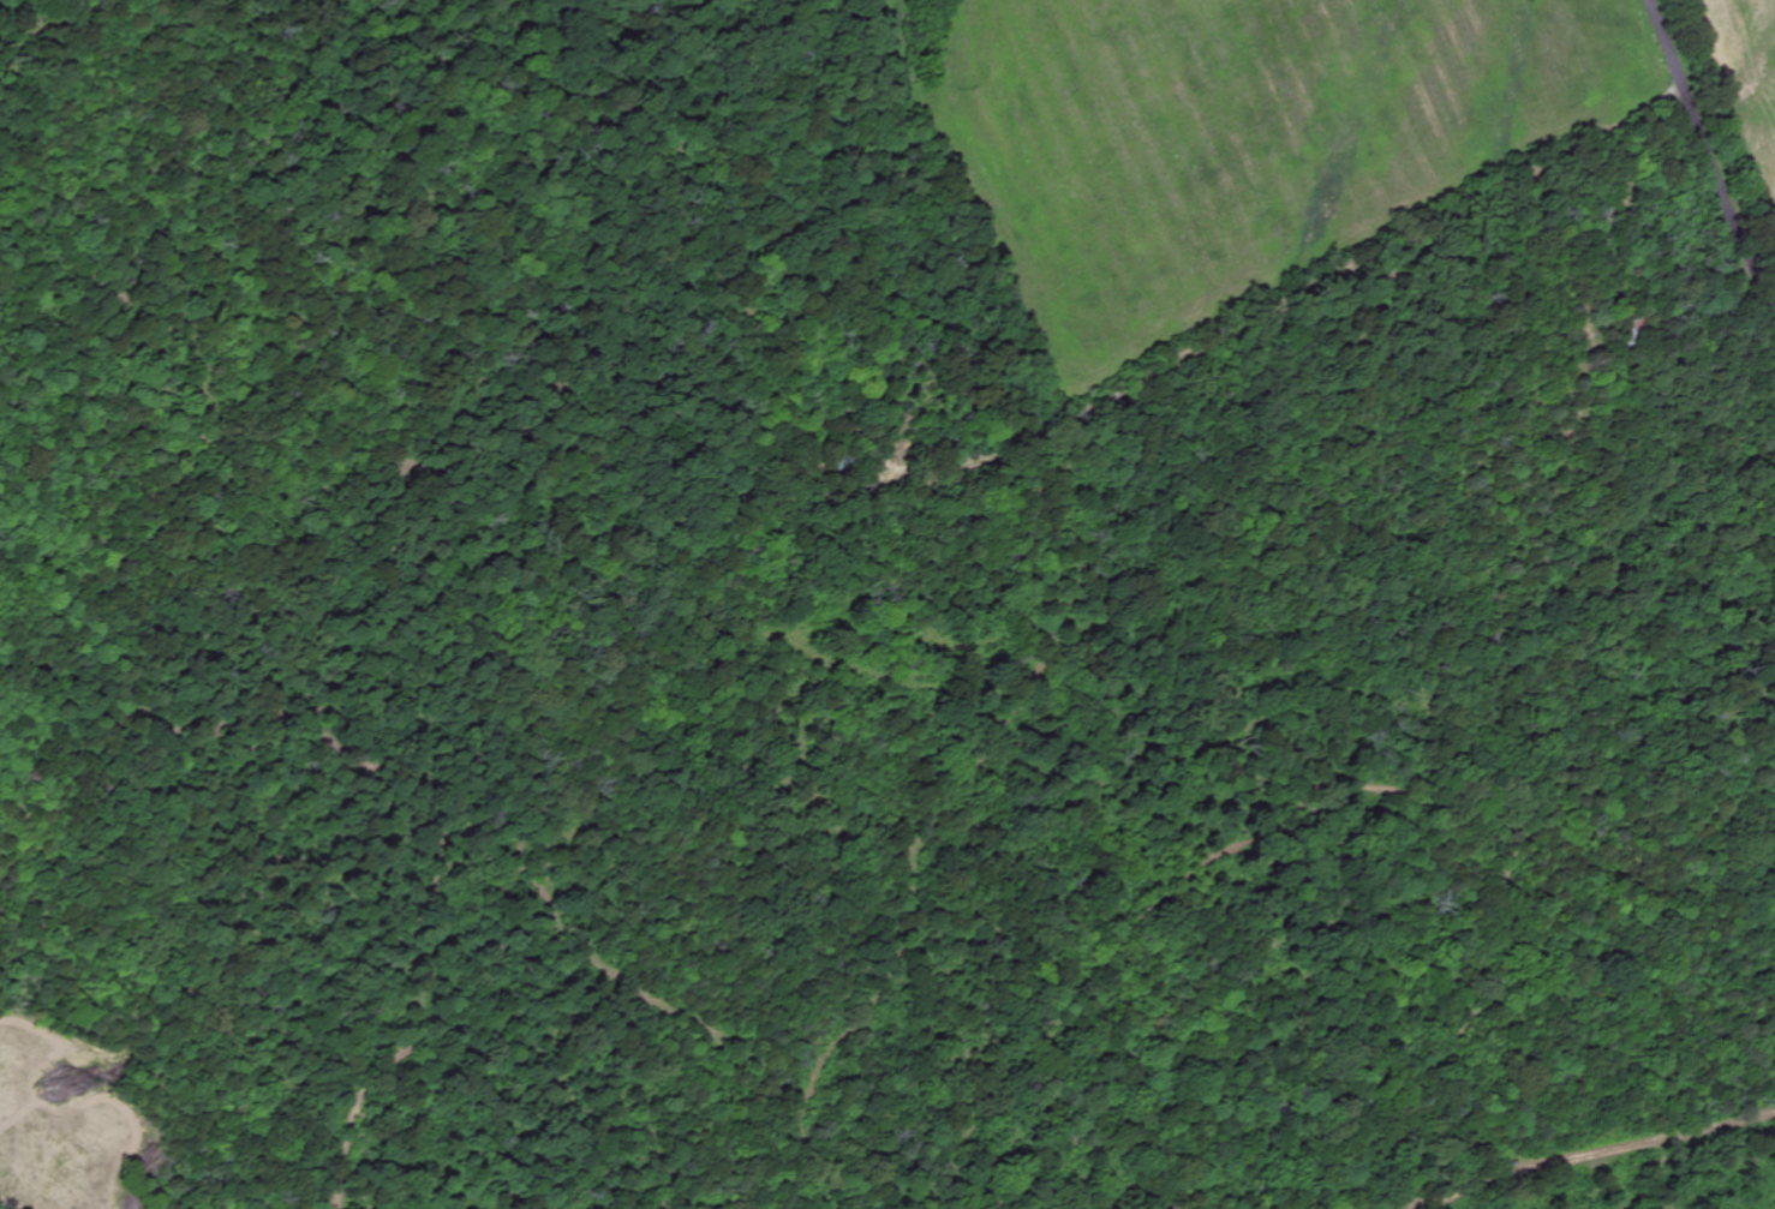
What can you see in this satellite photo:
road: (1710, 154)

